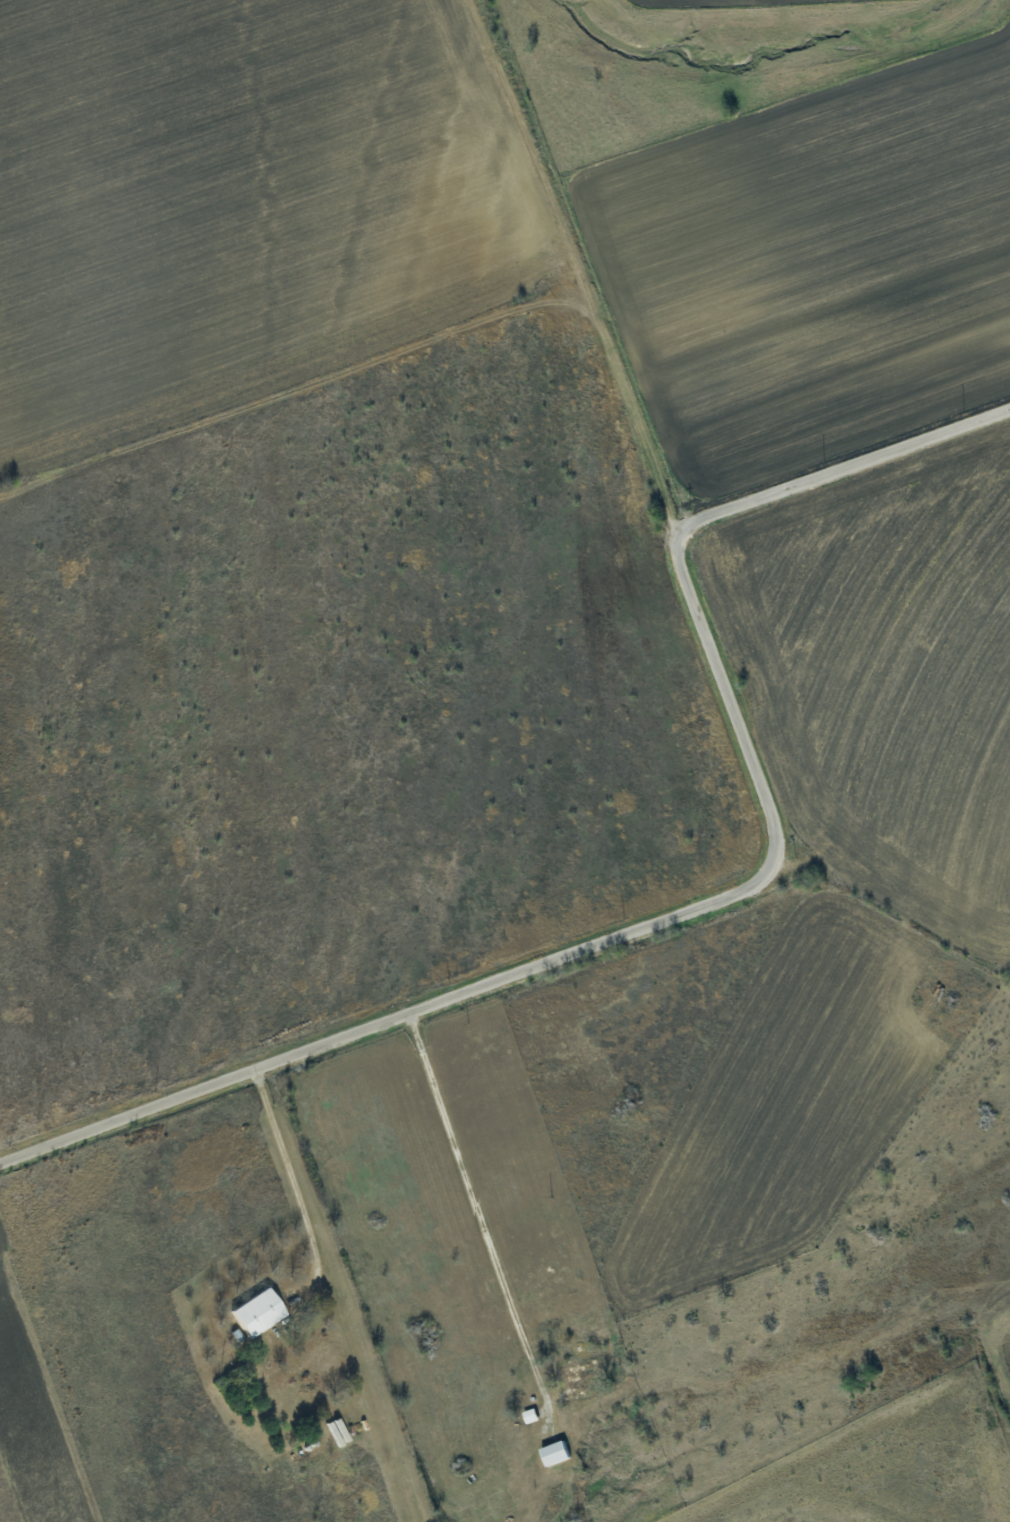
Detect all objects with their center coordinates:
road: (722, 900)
road: (476, 1206)
building: (262, 1311)
building: (550, 1453)

